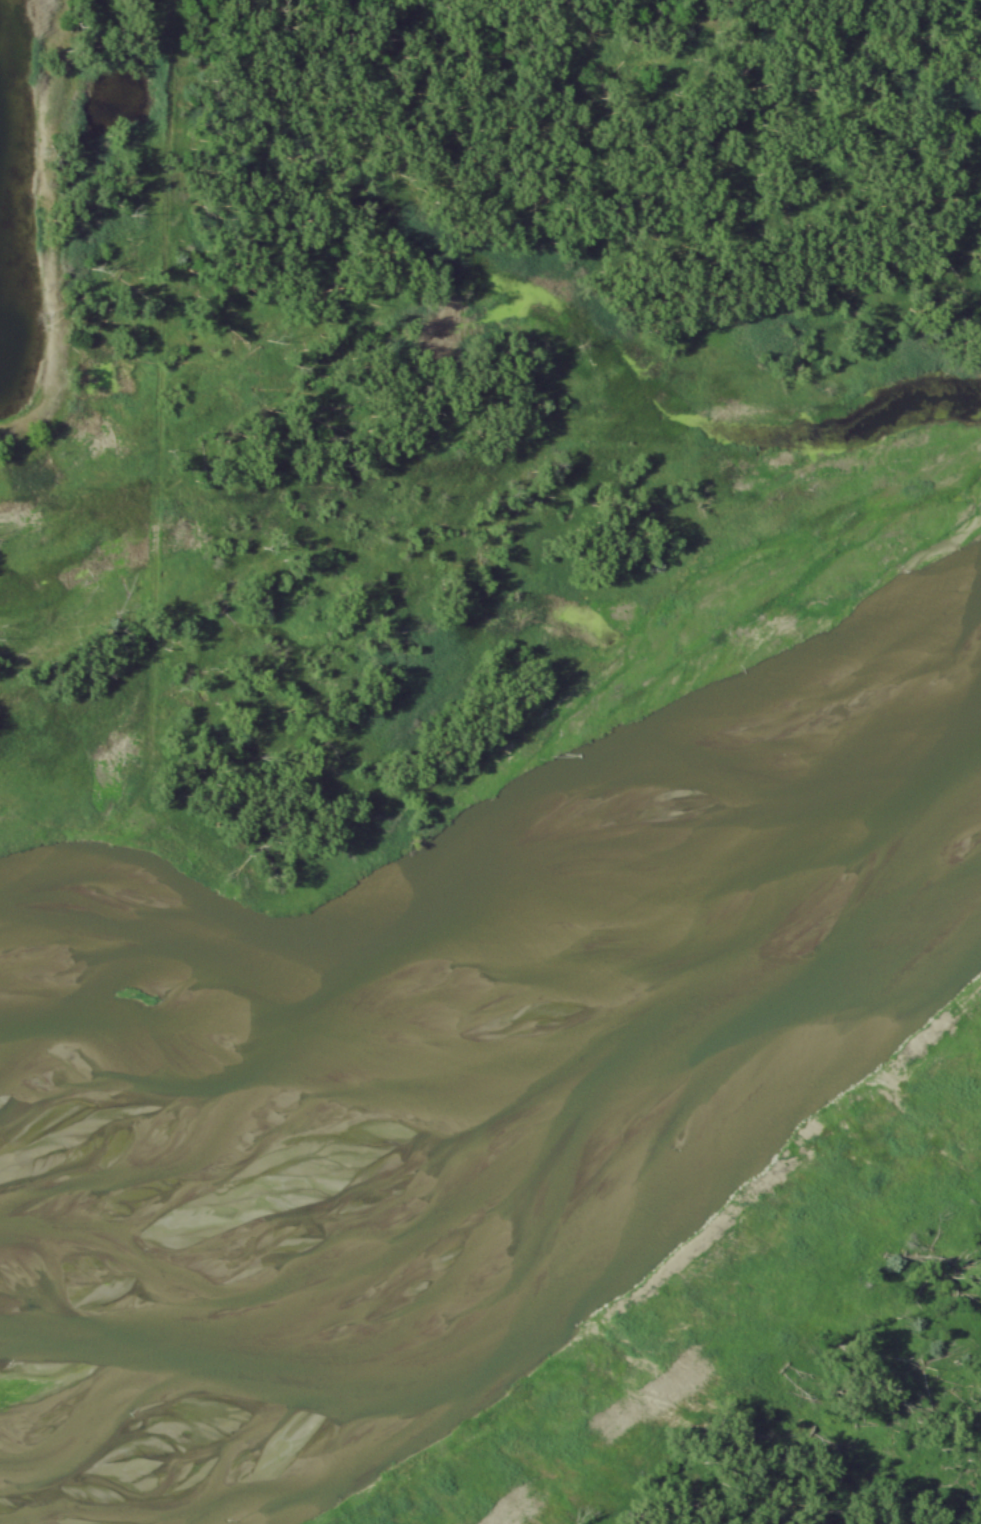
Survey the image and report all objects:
river: (556, 1162)

